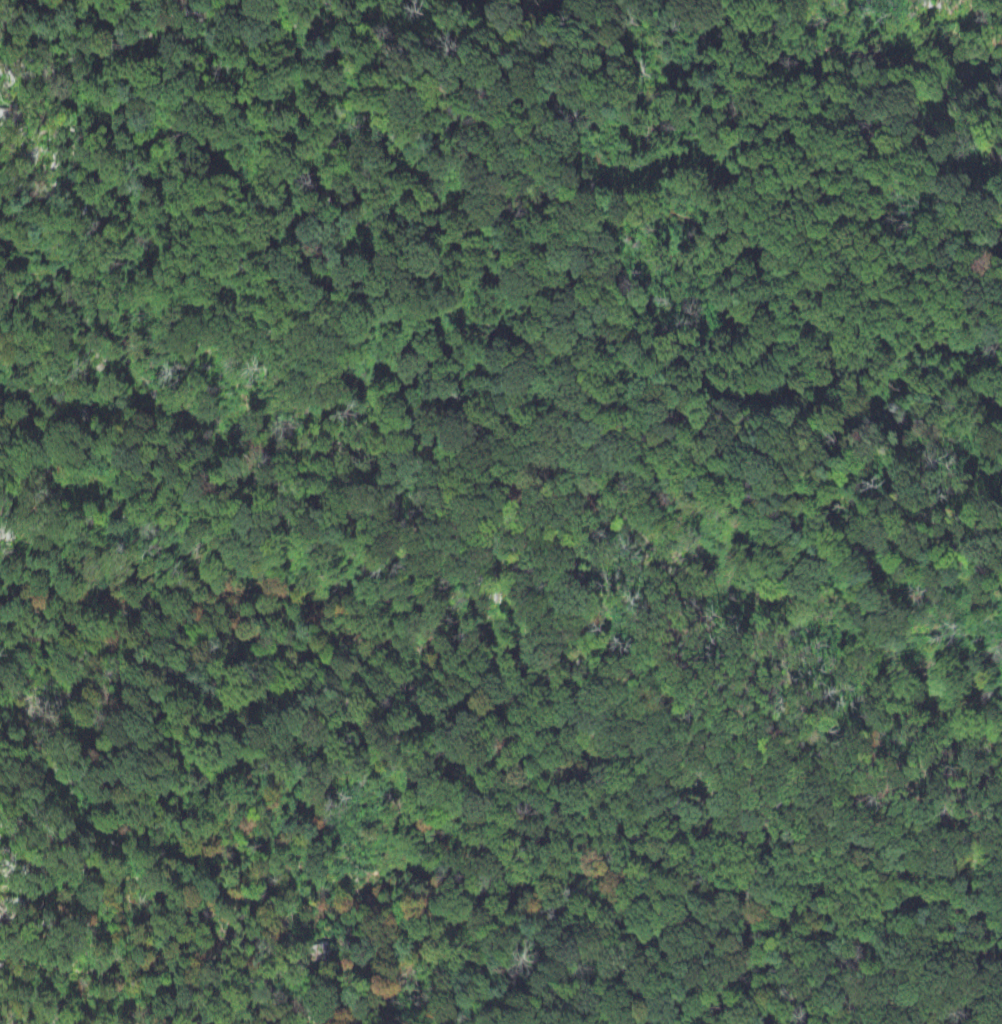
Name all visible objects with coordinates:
road: (583, 139)
road: (826, 420)
park: (501, 512)
road: (717, 690)

